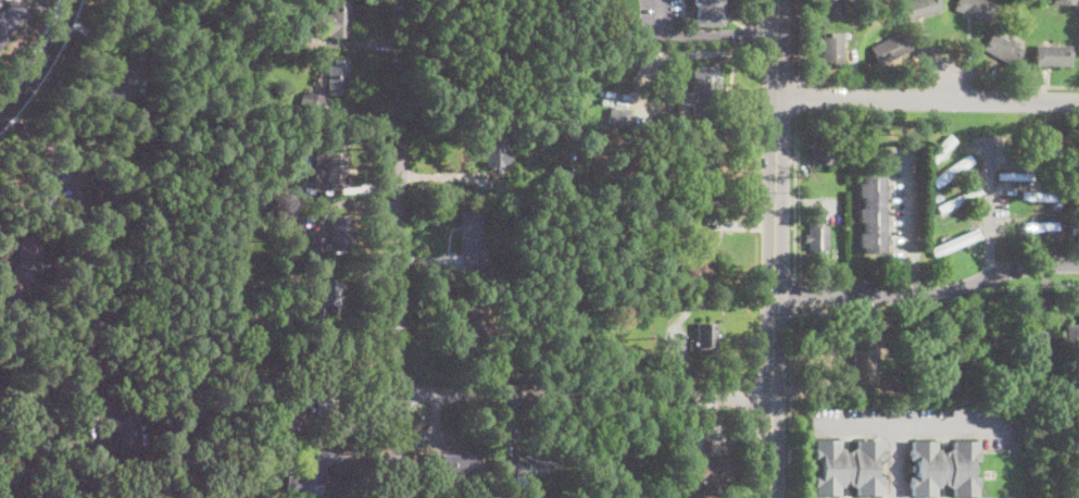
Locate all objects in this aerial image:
building: (1064, 1)
building: (920, 8)
building: (976, 8)
building: (832, 9)
building: (706, 13)
building: (11, 20)
building: (333, 20)
parking lot: (662, 20)
building: (497, 22)
road: (700, 37)
road: (801, 40)
building: (891, 47)
building: (1003, 49)
building: (833, 50)
road: (34, 52)
road: (940, 52)
building: (1054, 54)
road: (41, 62)
building: (125, 77)
building: (338, 77)
building: (705, 91)
road: (796, 99)
road: (927, 100)
building: (312, 101)
building: (625, 117)
building: (939, 147)
building: (821, 148)
building: (495, 149)
building: (1051, 151)
building: (950, 169)
building: (331, 170)
building: (560, 173)
building: (706, 174)
building: (1015, 176)
building: (509, 179)
building: (51, 184)
building: (1078, 185)
building: (570, 189)
building: (937, 196)
building: (957, 198)
building: (1043, 198)
building: (687, 201)
road: (795, 201)
parking lot: (905, 206)
road: (990, 206)
road: (908, 207)
building: (871, 214)
building: (75, 221)
building: (299, 223)
building: (1040, 226)
building: (342, 234)
building: (816, 236)
building: (471, 239)
building: (953, 241)
road: (398, 249)
road: (774, 249)
building: (701, 256)
building: (22, 266)
road: (909, 278)
building: (468, 284)
road: (929, 295)
road: (793, 296)
building: (334, 309)
building: (473, 322)
building: (575, 332)
building: (1071, 336)
building: (706, 338)
building: (469, 339)
building: (988, 344)
building: (1034, 361)
building: (862, 362)
building: (942, 381)
building: (321, 391)
road: (585, 396)
road: (789, 402)
building: (93, 412)
building: (278, 416)
parking lot: (918, 421)
road: (912, 425)
building: (127, 436)
building: (214, 444)
building: (637, 461)
road: (895, 461)
parking lot: (895, 463)
building: (455, 464)
building: (536, 464)
building: (846, 468)
building: (943, 468)
building: (705, 471)
building: (313, 473)
road: (61, 484)
building: (494, 496)

